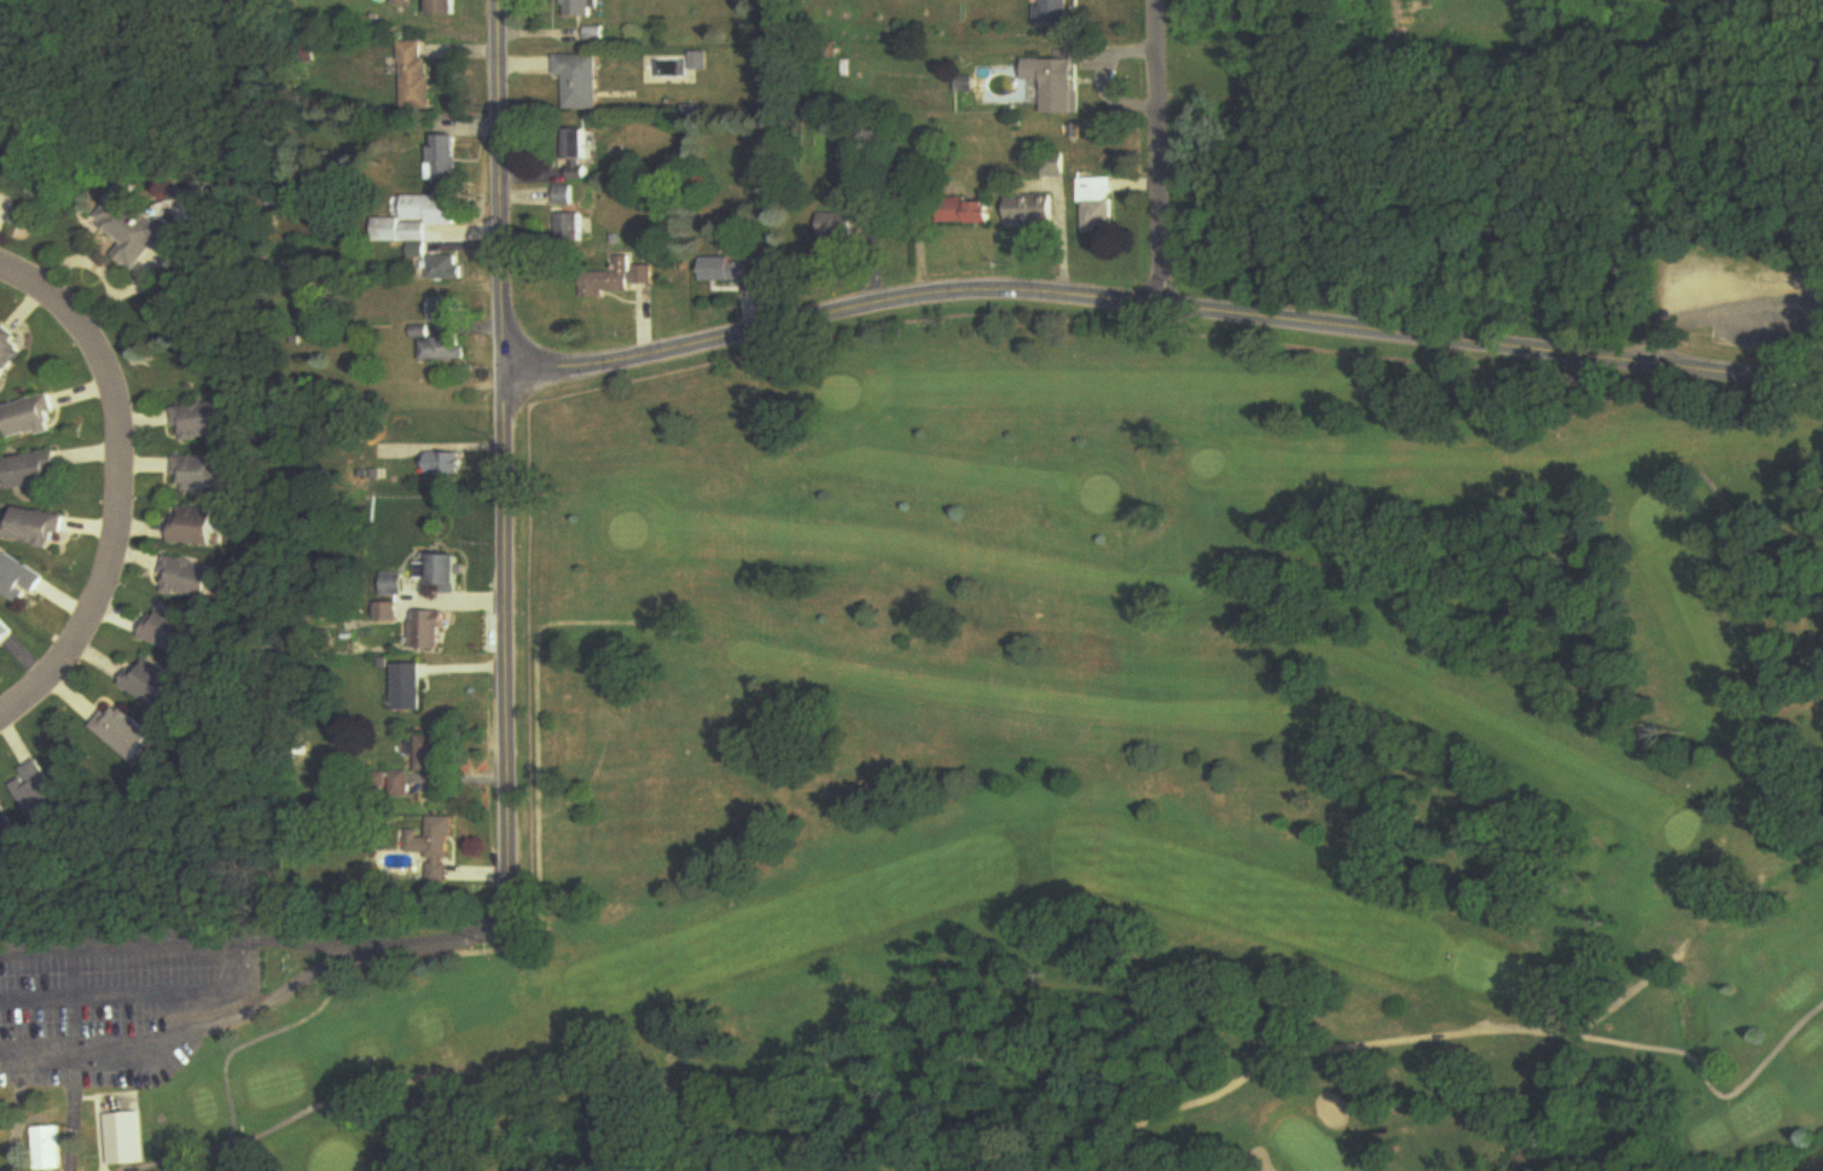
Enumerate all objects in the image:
building: (402, 2)
building: (446, 8)
building: (582, 8)
building: (1056, 12)
building: (598, 34)
building: (416, 76)
building: (1059, 80)
building: (584, 81)
road: (1645, 129)
road: (1154, 147)
building: (581, 153)
building: (449, 158)
building: (1, 163)
building: (1056, 166)
park: (1608, 172)
building: (1098, 204)
building: (435, 209)
building: (965, 210)
building: (1034, 210)
building: (846, 225)
building: (573, 226)
building: (135, 230)
building: (451, 268)
building: (728, 269)
building: (615, 280)
road: (1160, 296)
parking lot: (1757, 303)
building: (447, 309)
road: (1724, 309)
building: (10, 350)
building: (443, 350)
building: (30, 419)
building: (205, 422)
road: (504, 452)
building: (446, 465)
building: (35, 471)
building: (203, 474)
road: (121, 489)
building: (199, 527)
building: (36, 528)
building: (451, 574)
building: (21, 579)
building: (195, 579)
building: (397, 585)
building: (390, 613)
building: (174, 630)
building: (432, 631)
building: (5, 632)
building: (158, 683)
building: (413, 686)
building: (127, 732)
building: (434, 754)
road: (458, 772)
park: (1062, 789)
building: (36, 790)
building: (5, 823)
building: (435, 850)
road: (364, 949)
road: (118, 987)
road: (115, 1044)
road: (16, 1108)
building: (126, 1140)
building: (50, 1149)
river: (1819, 1167)

